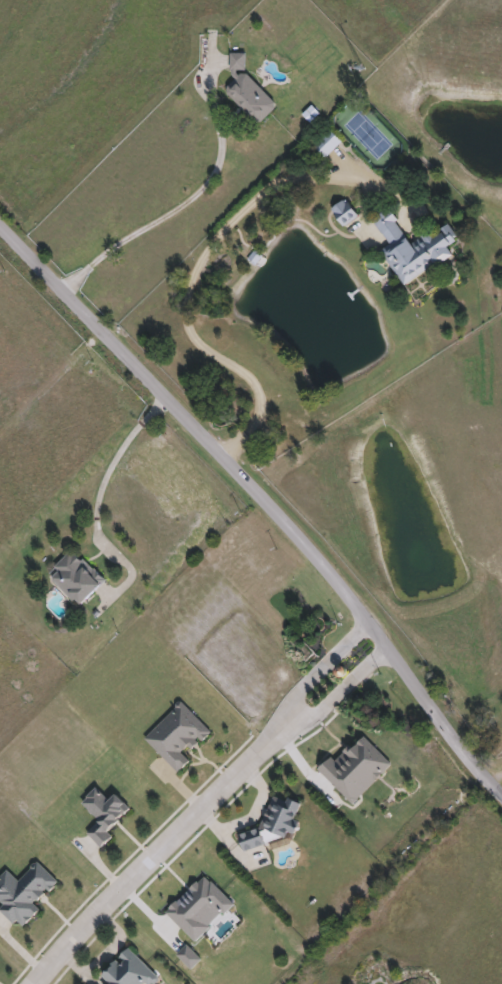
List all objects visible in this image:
building: (248, 91)
building: (327, 146)
road: (187, 198)
building: (345, 214)
building: (413, 248)
road: (202, 253)
road: (103, 499)
road: (264, 499)
building: (76, 580)
road: (203, 806)
building: (104, 815)
building: (281, 817)
building: (251, 841)
building: (129, 971)

